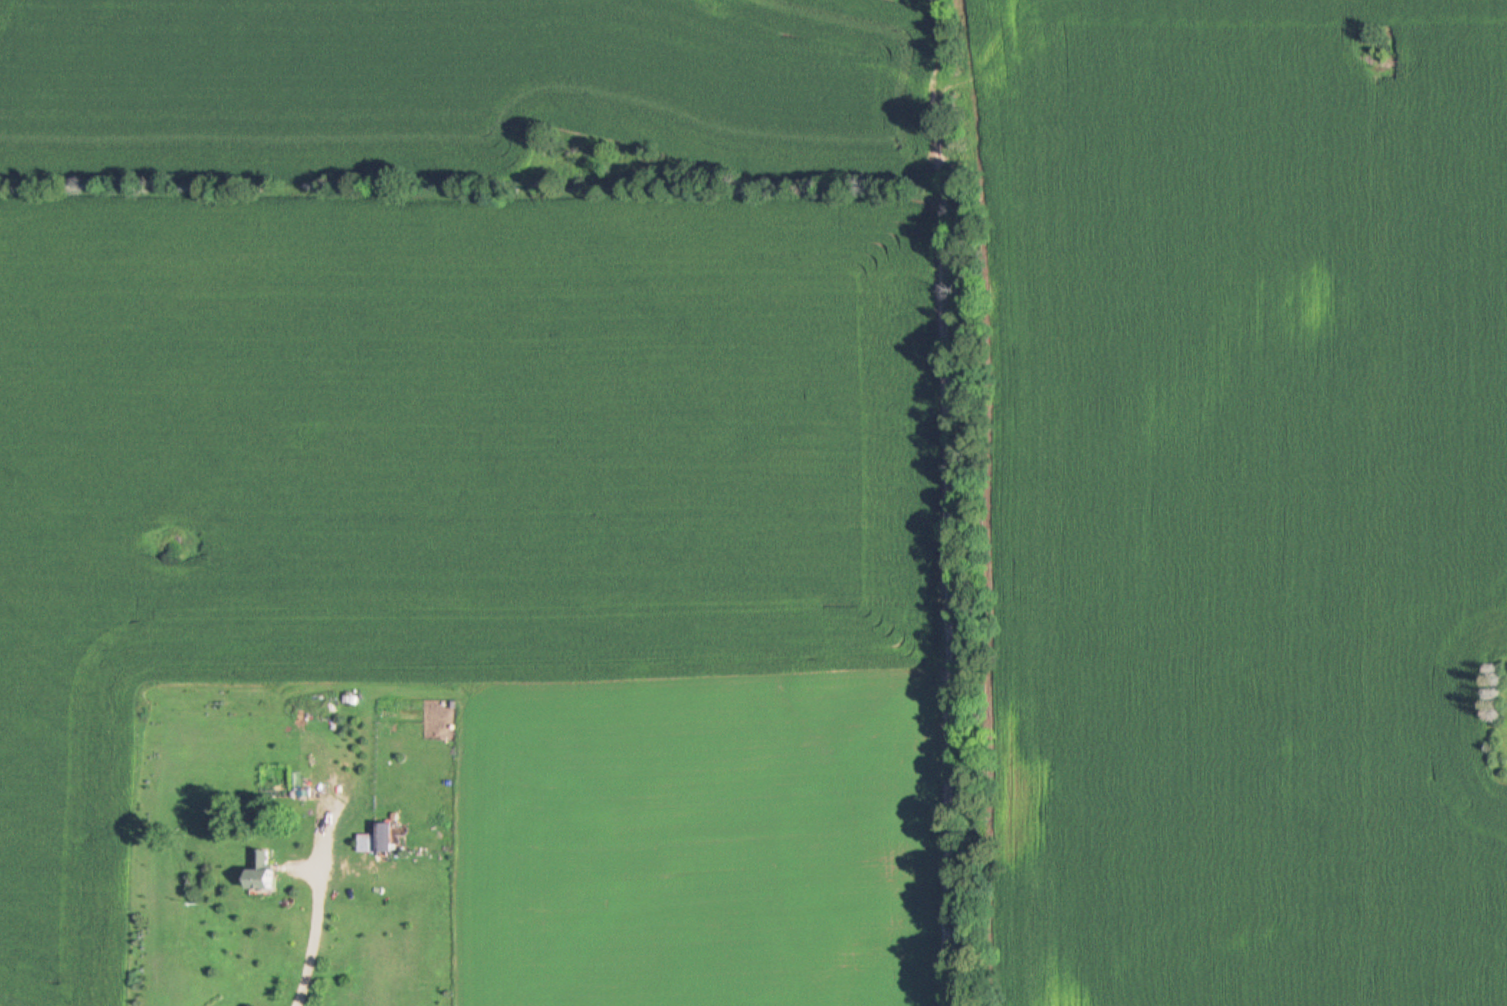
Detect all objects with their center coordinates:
building: (267, 879)

